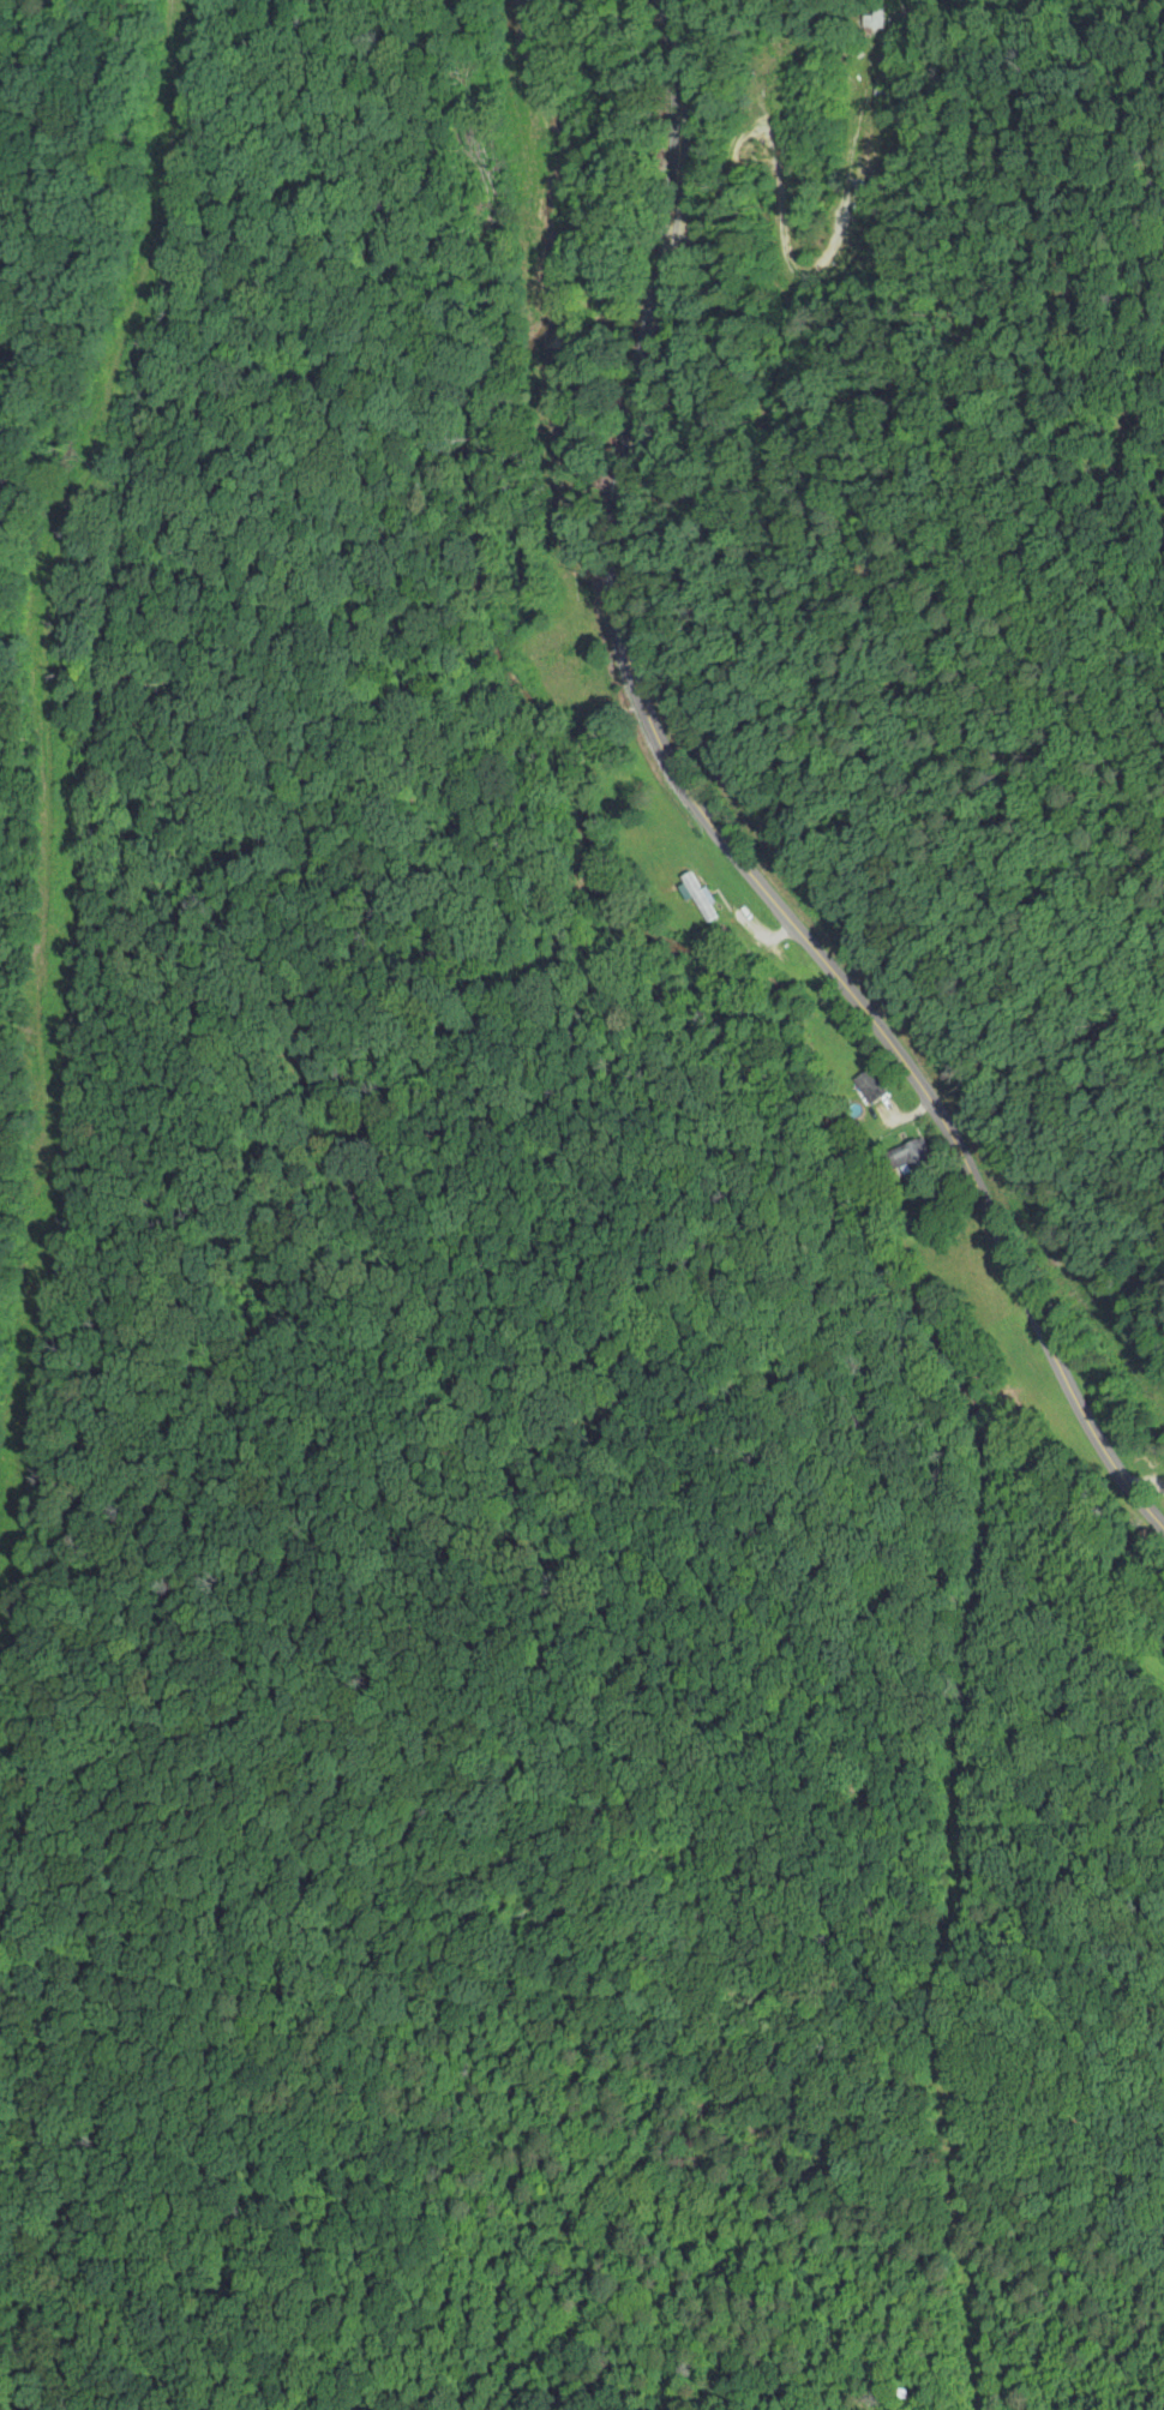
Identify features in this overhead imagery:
building: (860, 151)
road: (707, 820)

